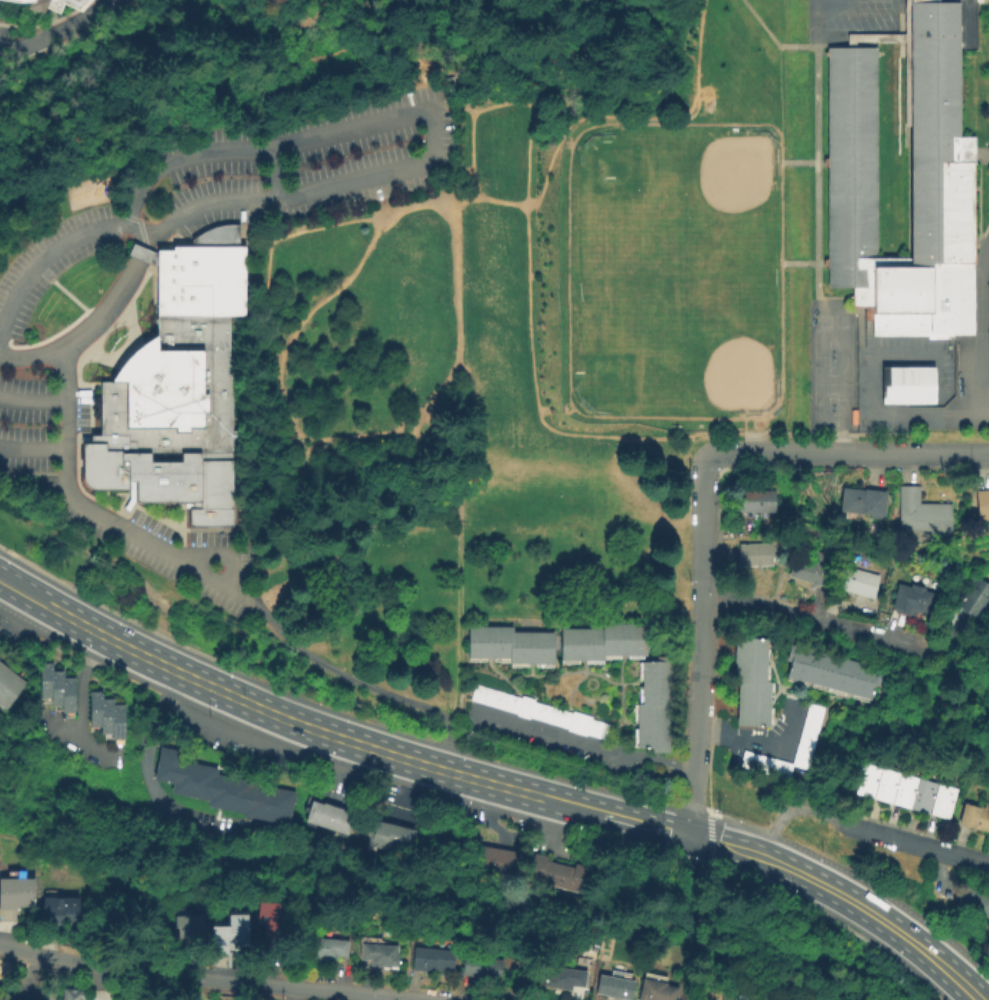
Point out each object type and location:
building: (52, 5)
road: (761, 22)
road: (60, 30)
road: (832, 43)
road: (580, 53)
road: (781, 89)
road: (430, 113)
road: (598, 117)
road: (816, 172)
building: (942, 198)
road: (295, 216)
road: (146, 243)
road: (56, 249)
road: (140, 254)
track: (675, 271)
park: (673, 272)
road: (529, 284)
road: (332, 296)
park: (825, 323)
park: (841, 323)
road: (82, 330)
road: (981, 331)
park: (833, 381)
building: (907, 387)
park: (907, 387)
building: (176, 389)
road: (33, 402)
road: (743, 419)
road: (903, 419)
road: (67, 424)
road: (290, 425)
road: (847, 433)
road: (699, 435)
road: (745, 441)
road: (839, 443)
road: (295, 444)
road: (33, 450)
road: (848, 454)
park: (419, 456)
building: (755, 502)
building: (862, 502)
building: (982, 505)
building: (922, 515)
road: (365, 518)
road: (167, 554)
building: (754, 555)
road: (221, 556)
building: (810, 568)
road: (457, 570)
building: (857, 582)
building: (973, 597)
building: (911, 600)
road: (816, 621)
road: (115, 642)
building: (602, 643)
building: (509, 646)
road: (702, 646)
road: (216, 660)
building: (831, 672)
building: (751, 681)
building: (45, 682)
road: (80, 686)
road: (368, 687)
building: (8, 688)
building: (56, 690)
building: (67, 696)
building: (654, 708)
building: (94, 710)
building: (540, 713)
building: (106, 717)
road: (289, 719)
building: (117, 723)
building: (809, 729)
road: (77, 741)
road: (361, 745)
road: (581, 746)
road: (761, 746)
road: (409, 760)
road: (336, 769)
road: (474, 780)
building: (865, 783)
building: (885, 787)
road: (148, 788)
building: (222, 790)
building: (904, 792)
building: (923, 797)
road: (552, 800)
building: (942, 802)
road: (787, 813)
building: (328, 818)
building: (974, 819)
road: (640, 823)
road: (742, 823)
traffic signals: (668, 831)
building: (388, 836)
road: (889, 837)
road: (708, 839)
traffic signals: (716, 843)
road: (727, 846)
road: (965, 858)
building: (477, 859)
building: (491, 862)
building: (505, 865)
road: (717, 866)
building: (556, 875)
road: (936, 876)
road: (840, 893)
road: (887, 897)
building: (16, 898)
building: (976, 903)
building: (59, 911)
building: (187, 924)
road: (695, 929)
building: (237, 930)
building: (269, 931)
building: (216, 947)
building: (326, 950)
building: (379, 955)
building: (430, 961)
road: (944, 967)
building: (481, 969)
road: (50, 979)
road: (208, 979)
building: (563, 980)
road: (95, 982)
road: (24, 983)
building: (614, 986)
building: (655, 991)
building: (69, 994)
building: (0, 997)
road: (377, 997)
building: (728, 999)

